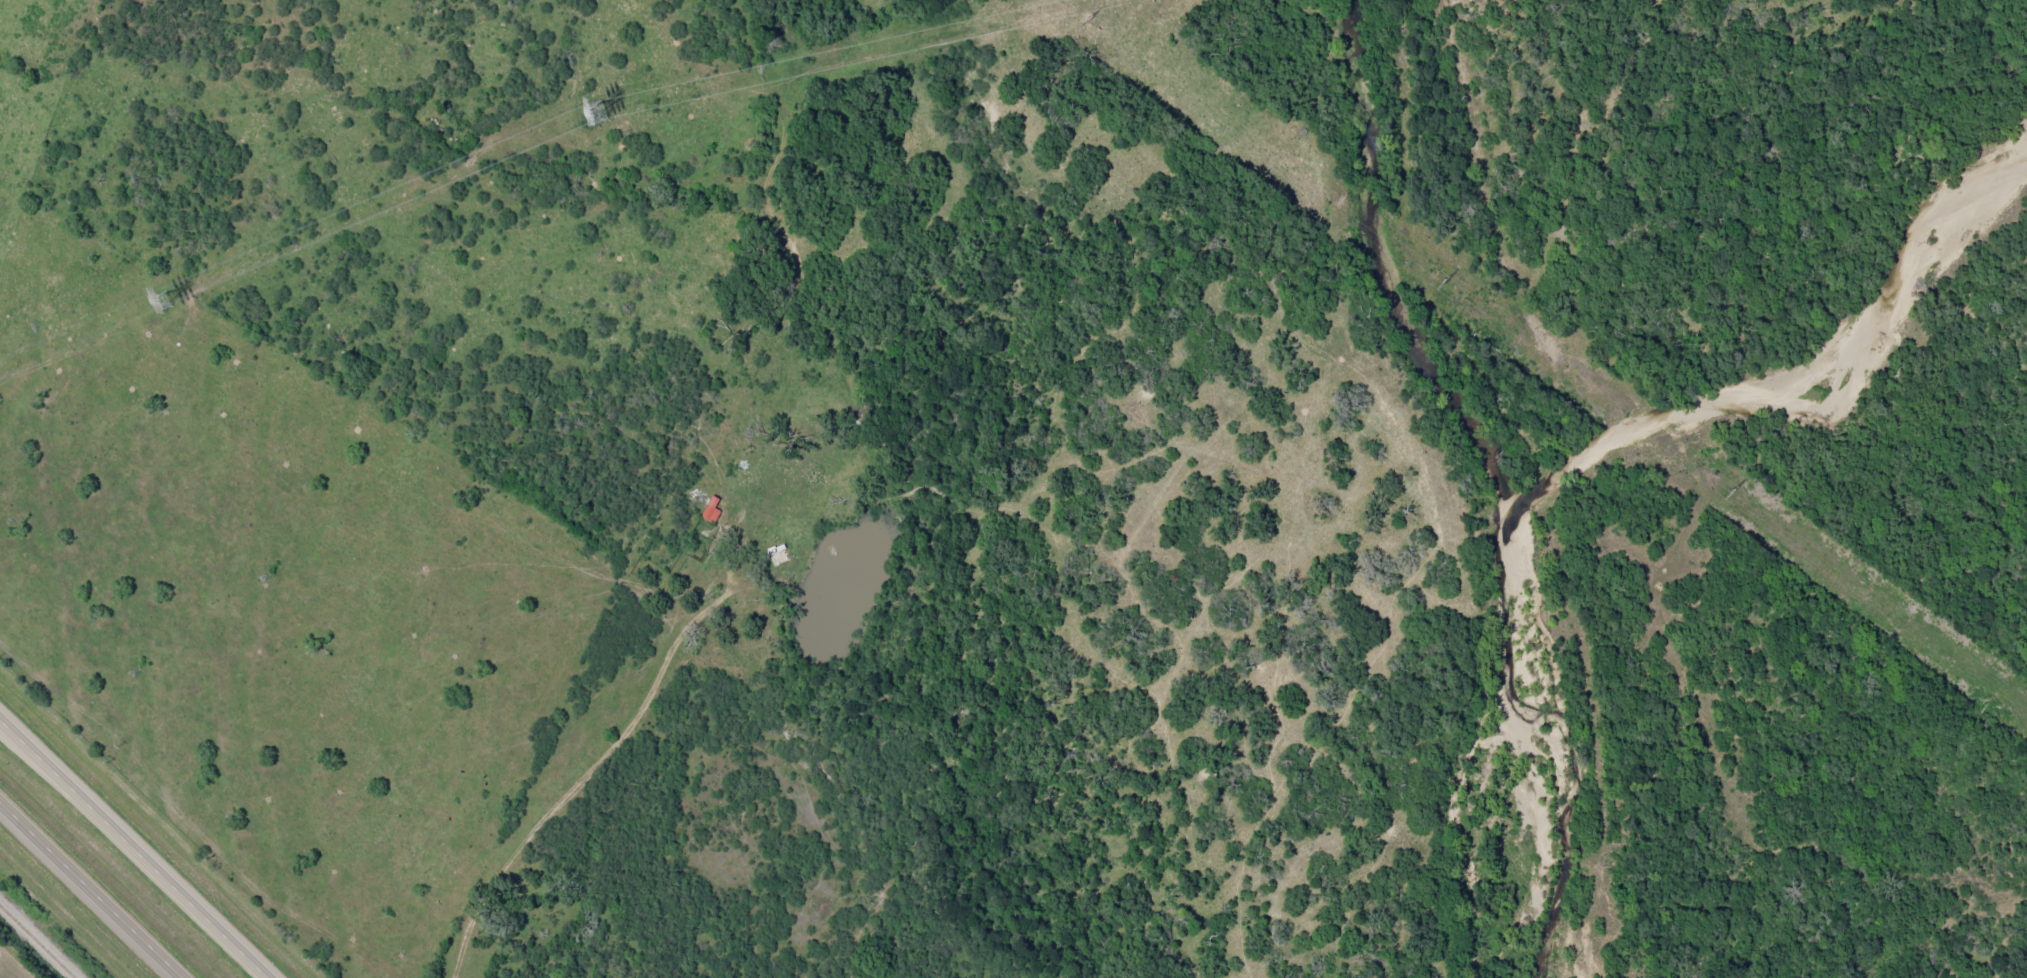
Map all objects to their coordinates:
power tower: (1083, 22)
power tower: (591, 112)
power tower: (1439, 281)
power tower: (161, 302)
power tower: (1728, 493)
building: (710, 510)
road: (680, 694)
road: (135, 848)
road: (91, 890)
railway: (35, 943)

